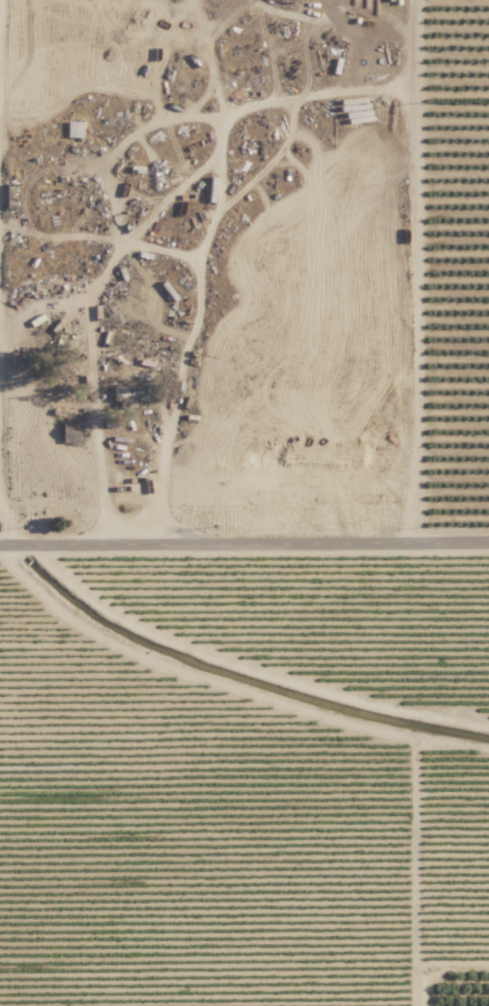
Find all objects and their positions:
road: (244, 543)

